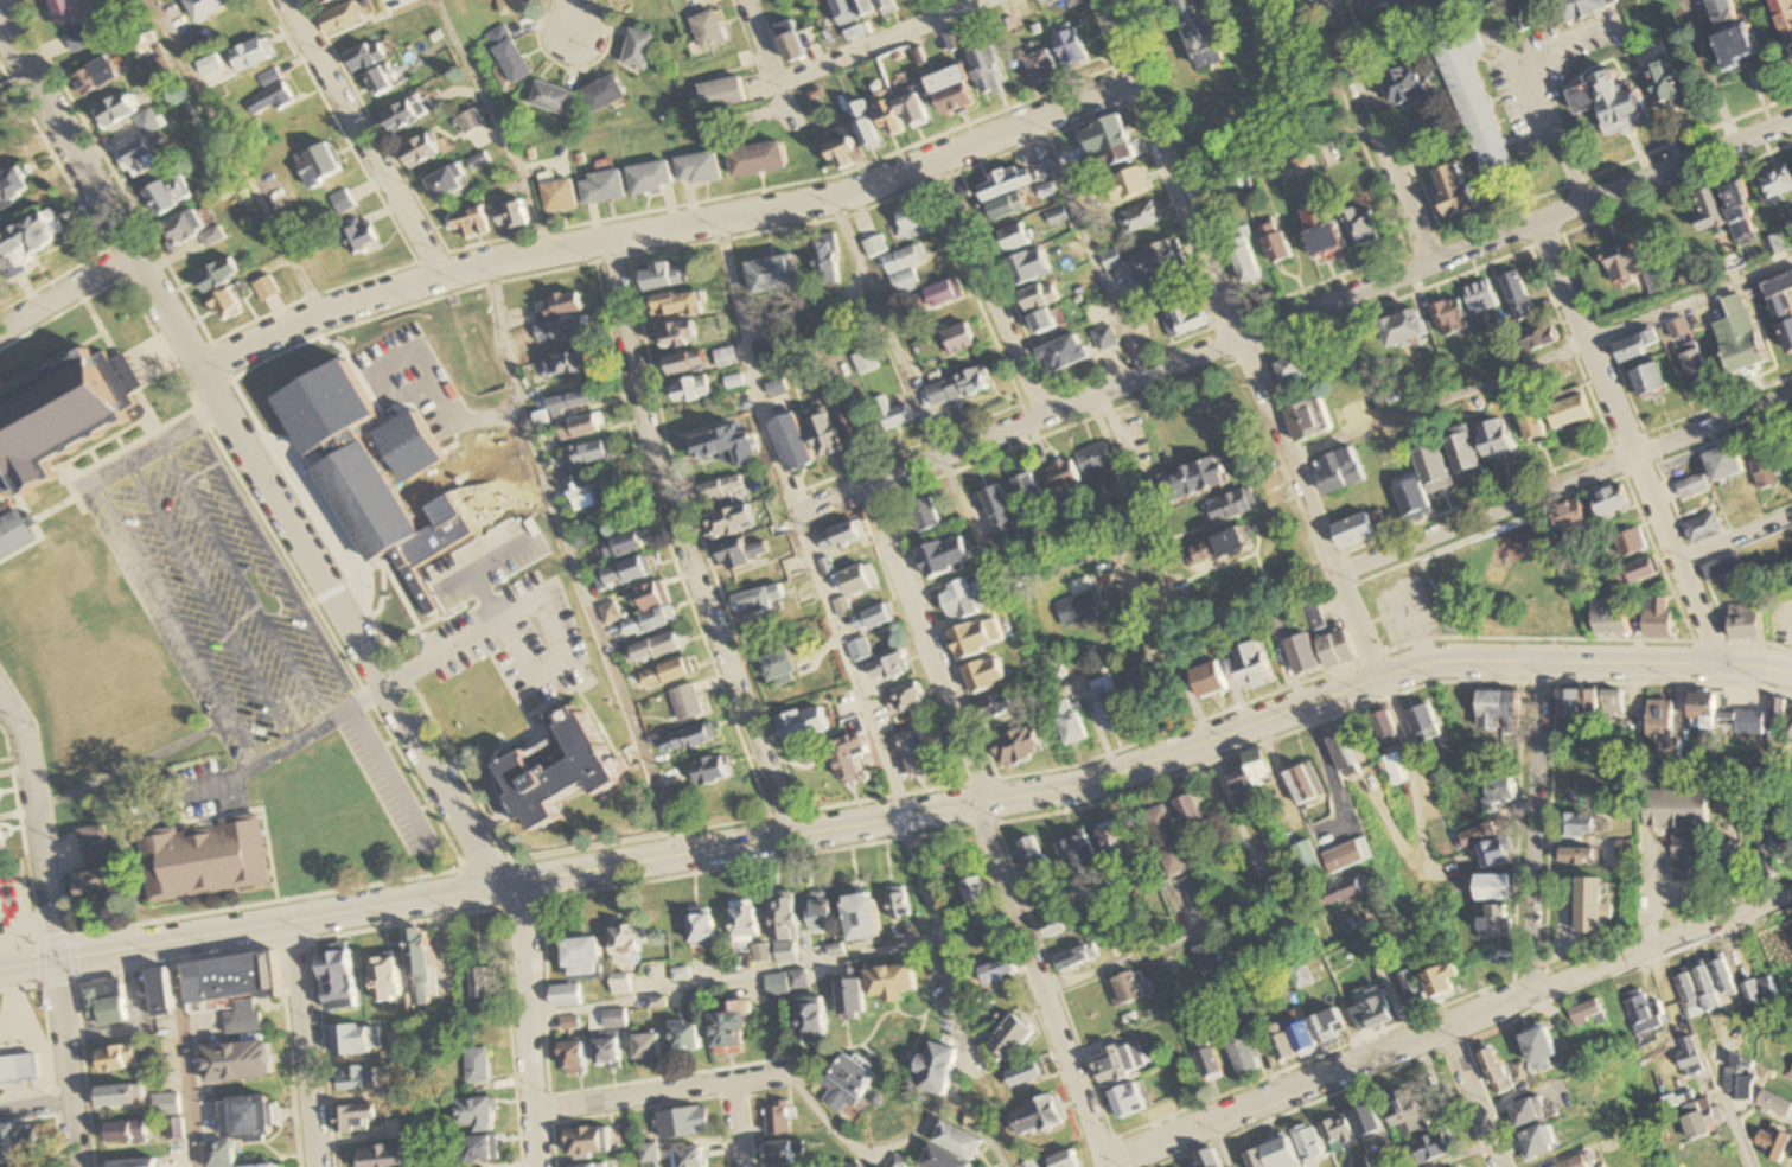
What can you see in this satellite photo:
road: (2, 1)
road: (942, 7)
road: (569, 18)
road: (879, 40)
road: (764, 42)
road: (1526, 93)
road: (1646, 93)
road: (499, 123)
road: (1398, 128)
road: (1377, 133)
road: (361, 139)
road: (1274, 153)
road: (236, 157)
road: (670, 230)
road: (1084, 249)
road: (988, 287)
road: (69, 293)
road: (1290, 295)
road: (1293, 318)
road: (1333, 324)
road: (887, 327)
road: (1236, 339)
road: (1539, 361)
road: (1577, 361)
road: (420, 363)
road: (486, 416)
road: (162, 441)
road: (1708, 442)
road: (1630, 444)
road: (1658, 467)
road: (1564, 486)
road: (799, 523)
road: (1734, 536)
road: (684, 542)
road: (977, 544)
road: (574, 563)
road: (275, 566)
road: (1392, 567)
road: (327, 574)
park: (1494, 580)
road: (242, 585)
road: (210, 604)
road: (542, 604)
parking lot: (1407, 611)
road: (1412, 626)
road: (184, 636)
road: (929, 645)
road: (1172, 652)
road: (343, 716)
road: (1409, 764)
road: (389, 780)
road: (903, 818)
road: (33, 825)
road: (1535, 827)
road: (1788, 863)
road: (1122, 959)
road: (731, 980)
road: (1042, 986)
building: (1609, 1010)
road: (1449, 1026)
road: (301, 1044)
building: (1565, 1048)
road: (184, 1053)
road: (959, 1061)
road: (64, 1063)
building: (1523, 1072)
road: (759, 1077)
road: (630, 1097)
road: (1472, 1097)
road: (33, 1107)
road: (732, 1124)
road: (1730, 1124)
road: (1220, 1144)
road: (1460, 1155)

